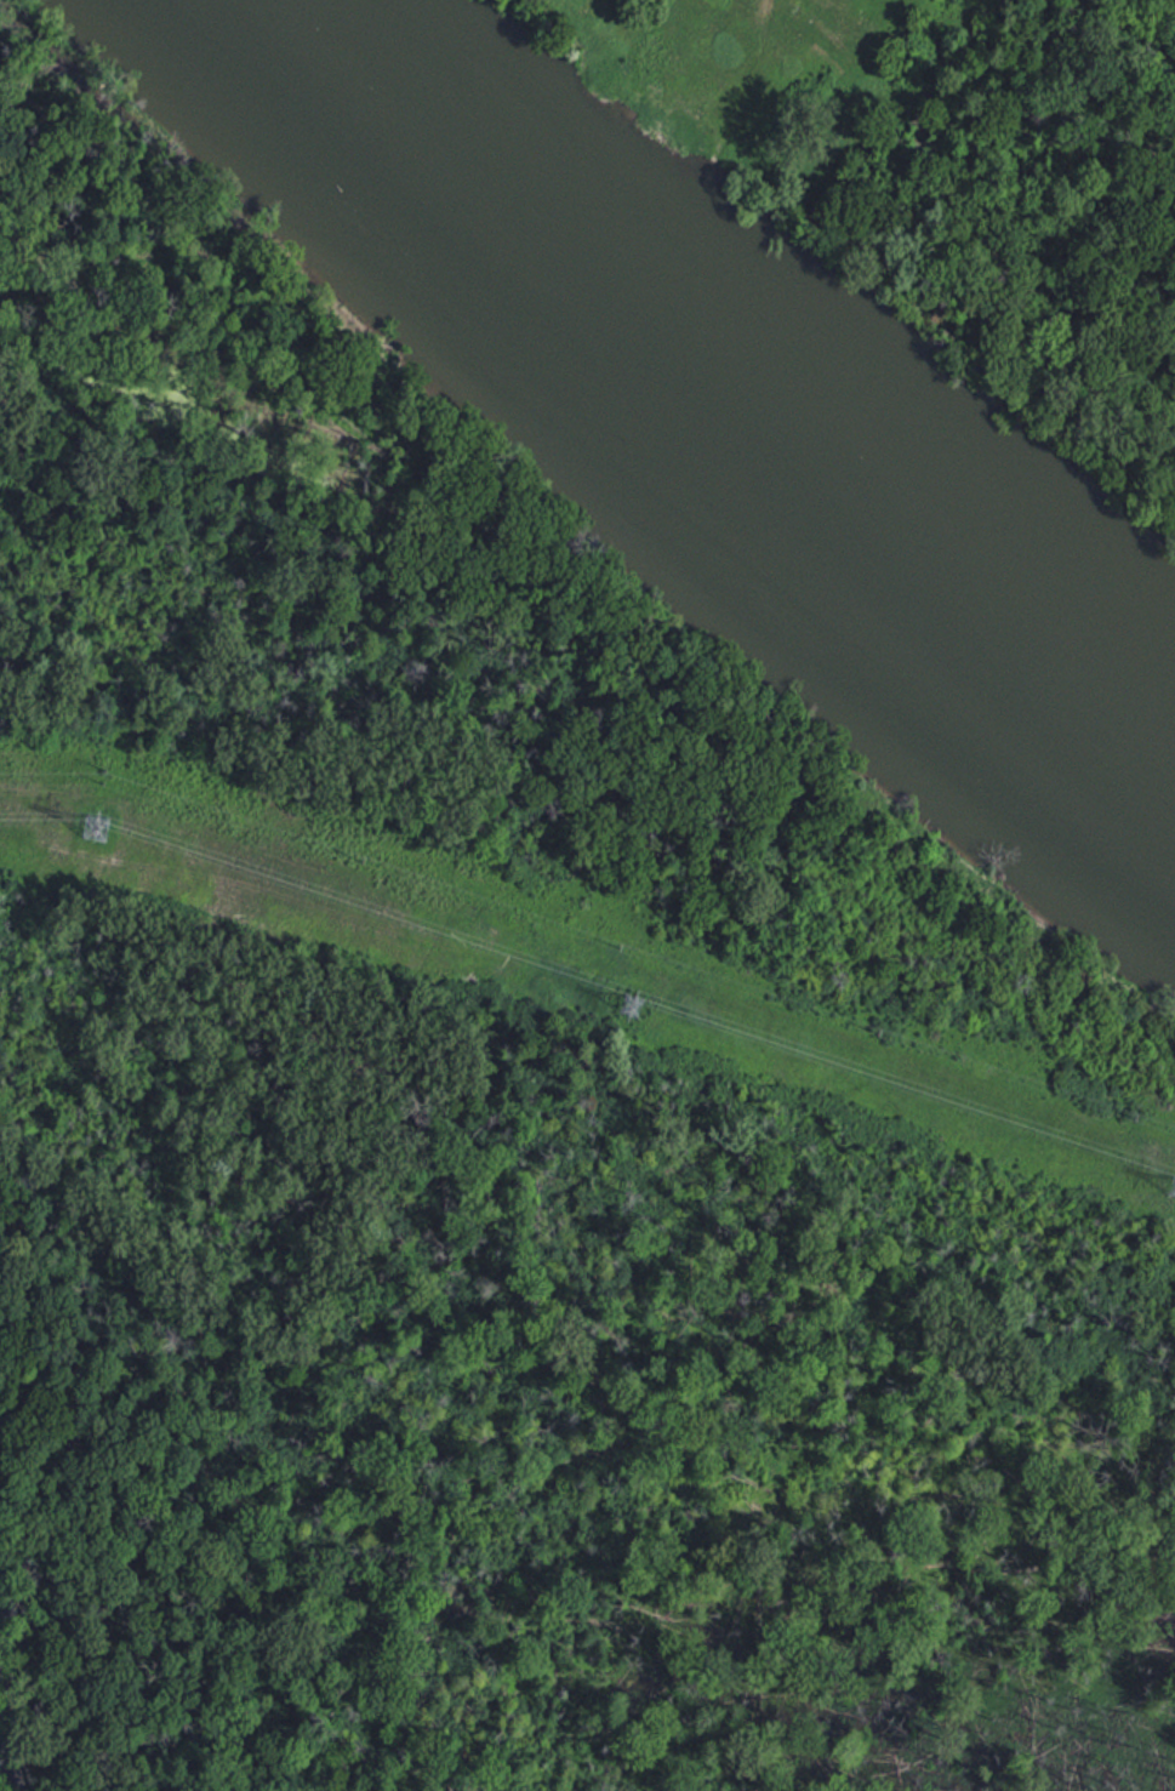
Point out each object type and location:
road: (742, 24)
road: (681, 114)
park: (941, 182)
river: (689, 411)
road: (576, 634)
power tower: (97, 828)
power tower: (631, 1004)

